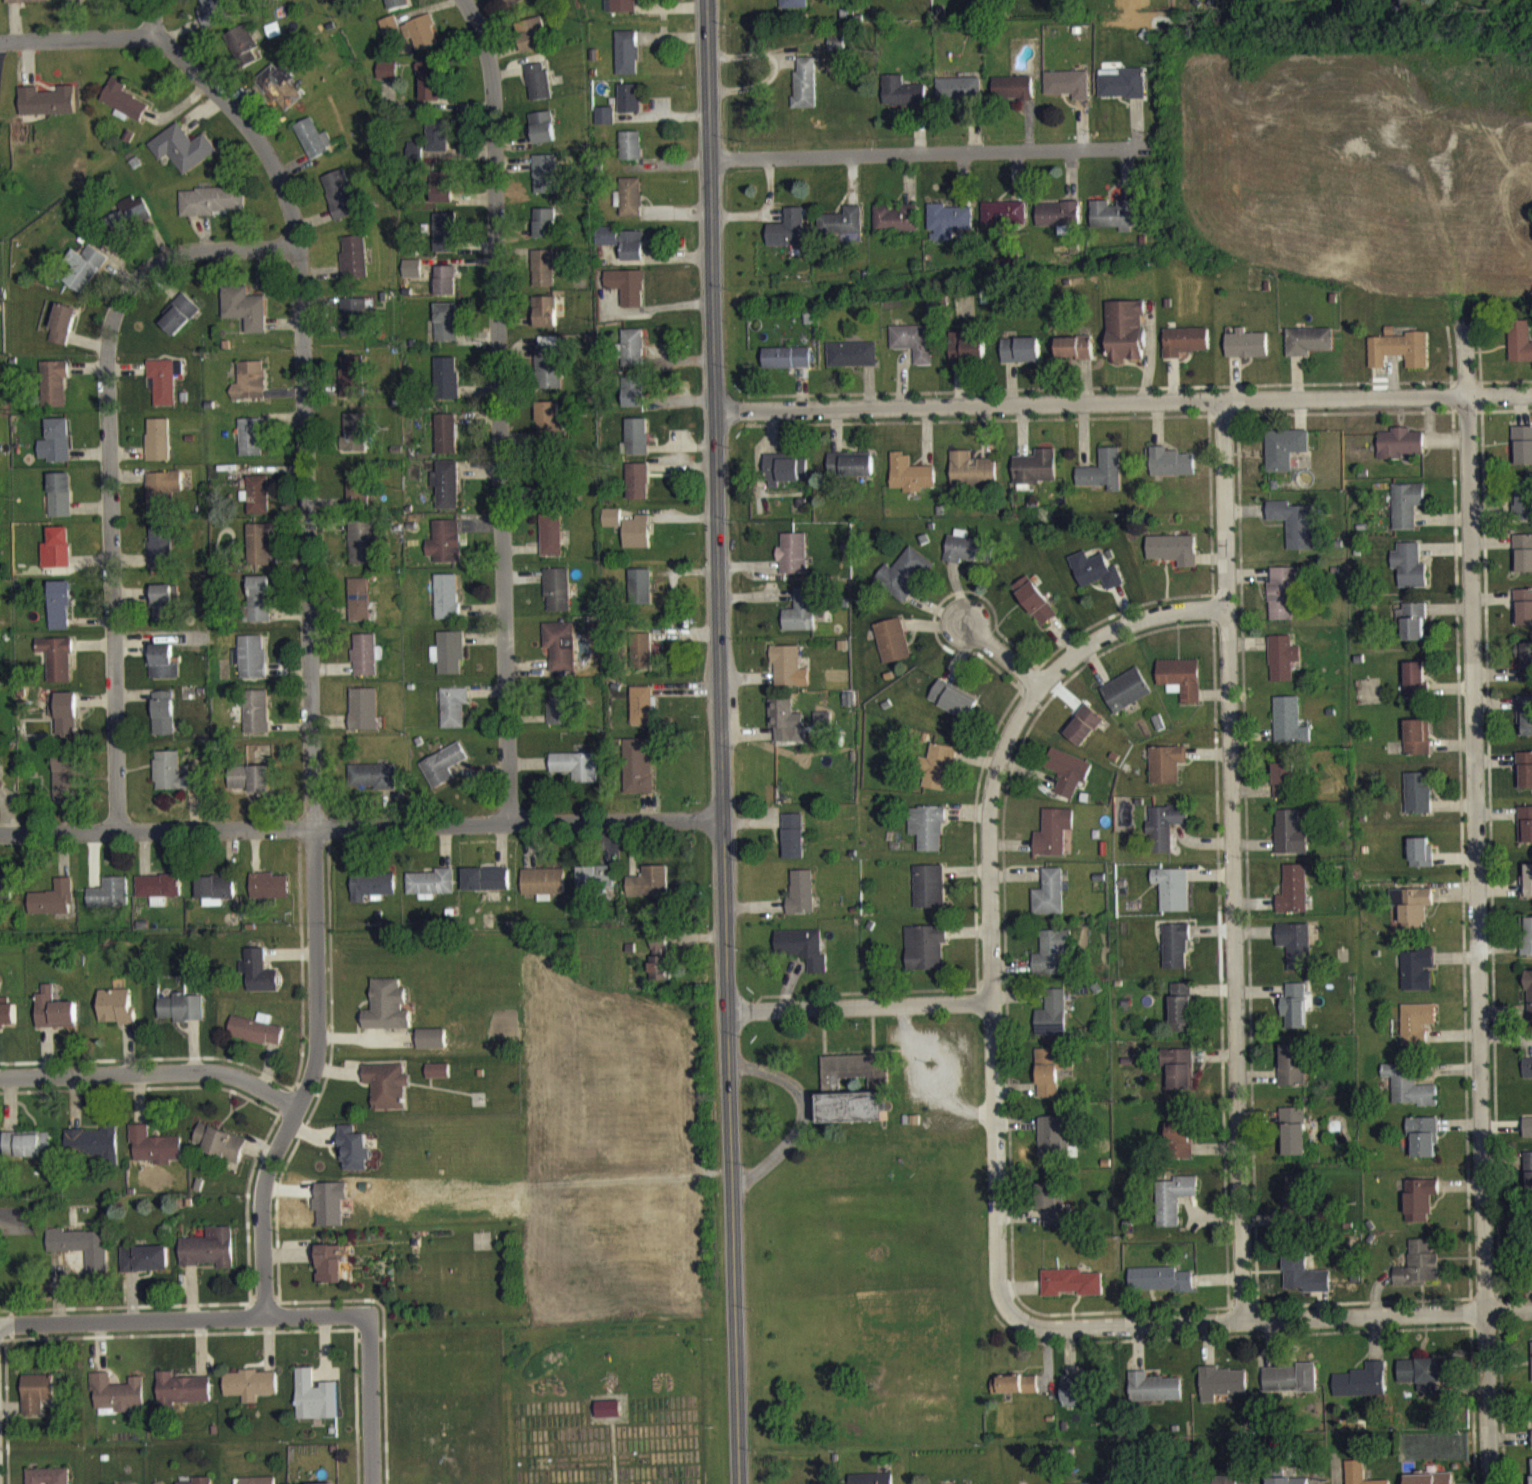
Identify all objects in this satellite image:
building: (79, 2)
building: (28, 5)
building: (513, 6)
building: (396, 8)
building: (796, 9)
building: (621, 11)
building: (212, 17)
building: (390, 36)
building: (421, 41)
building: (531, 43)
road: (76, 48)
building: (241, 55)
building: (627, 61)
building: (387, 79)
building: (432, 88)
building: (538, 90)
building: (806, 91)
building: (1123, 92)
building: (1069, 93)
building: (279, 95)
building: (958, 97)
building: (1013, 97)
building: (903, 101)
building: (629, 107)
building: (122, 108)
building: (46, 110)
building: (604, 125)
building: (542, 137)
building: (437, 144)
building: (313, 147)
road: (929, 153)
building: (630, 155)
building: (181, 156)
building: (413, 159)
building: (544, 183)
building: (442, 196)
building: (339, 203)
building: (629, 206)
building: (211, 210)
building: (1005, 222)
building: (1059, 223)
building: (130, 224)
building: (1116, 224)
building: (897, 227)
building: (949, 229)
building: (545, 232)
building: (842, 232)
building: (790, 239)
building: (445, 241)
building: (622, 251)
road: (255, 259)
building: (353, 266)
building: (411, 277)
building: (544, 277)
building: (82, 278)
building: (445, 289)
building: (627, 295)
building: (244, 317)
building: (546, 321)
building: (180, 323)
building: (353, 326)
building: (446, 331)
building: (62, 333)
building: (1127, 339)
building: (1185, 350)
building: (1310, 350)
building: (1520, 350)
building: (914, 351)
building: (1248, 353)
building: (633, 357)
building: (1076, 357)
building: (967, 358)
building: (1021, 359)
building: (1400, 359)
building: (853, 364)
building: (788, 367)
building: (548, 372)
building: (351, 387)
building: (446, 387)
building: (163, 389)
building: (249, 390)
building: (54, 392)
building: (634, 401)
road: (1092, 401)
road: (1498, 406)
road: (502, 409)
building: (551, 430)
building: (353, 441)
building: (446, 443)
building: (637, 445)
building: (250, 446)
road: (107, 448)
building: (57, 449)
building: (157, 449)
building: (1400, 452)
building: (1523, 454)
building: (1285, 457)
building: (1171, 471)
building: (858, 475)
building: (1035, 476)
building: (785, 479)
building: (973, 480)
building: (1103, 480)
building: (911, 483)
building: (638, 490)
building: (446, 493)
building: (357, 496)
building: (161, 499)
building: (257, 503)
building: (59, 504)
building: (1523, 510)
building: (1407, 514)
building: (612, 526)
building: (1295, 533)
building: (637, 541)
building: (551, 544)
building: (362, 551)
building: (444, 551)
building: (258, 554)
building: (160, 556)
building: (56, 557)
building: (1173, 558)
building: (793, 563)
building: (1523, 563)
building: (1409, 574)
building: (1096, 580)
building: (903, 583)
building: (640, 595)
building: (556, 598)
building: (1283, 603)
building: (446, 606)
building: (258, 608)
building: (164, 609)
building: (359, 609)
building: (1035, 610)
building: (59, 613)
building: (1524, 616)
building: (800, 620)
building: (1412, 630)
road: (1123, 632)
road: (308, 637)
building: (594, 640)
road: (974, 644)
building: (892, 650)
building: (560, 655)
building: (643, 660)
building: (449, 661)
building: (365, 664)
building: (57, 666)
building: (250, 666)
building: (1283, 667)
building: (163, 671)
building: (1527, 671)
building: (788, 676)
building: (1181, 688)
building: (1415, 689)
building: (1126, 700)
building: (953, 709)
building: (560, 714)
building: (453, 715)
building: (640, 715)
building: (363, 718)
building: (256, 720)
building: (163, 722)
building: (64, 724)
building: (1524, 725)
building: (785, 730)
building: (1289, 731)
building: (1084, 735)
road: (720, 741)
building: (1418, 747)
road: (114, 763)
building: (1166, 773)
building: (442, 774)
building: (938, 774)
building: (573, 775)
building: (637, 776)
building: (1524, 779)
building: (1068, 781)
building: (173, 782)
building: (373, 785)
building: (66, 787)
building: (249, 787)
building: (1284, 790)
building: (1, 792)
building: (1418, 802)
road: (360, 827)
building: (1525, 834)
building: (1165, 835)
building: (928, 837)
building: (1053, 842)
building: (1290, 842)
building: (792, 846)
road: (1238, 859)
building: (1421, 862)
building: (486, 888)
building: (647, 891)
building: (431, 892)
building: (543, 892)
building: (1527, 892)
building: (6, 894)
building: (372, 894)
building: (270, 895)
building: (929, 896)
building: (158, 897)
building: (215, 897)
building: (1172, 898)
building: (1294, 899)
building: (109, 902)
building: (801, 902)
building: (1050, 902)
building: (53, 908)
building: (1412, 916)
road: (1469, 945)
building: (1527, 945)
building: (1295, 953)
building: (925, 956)
building: (1176, 956)
building: (803, 957)
building: (1053, 962)
building: (660, 966)
building: (1418, 979)
building: (260, 981)
road: (997, 1001)
building: (1529, 1004)
road: (863, 1006)
building: (389, 1015)
building: (116, 1016)
building: (1294, 1016)
building: (183, 1017)
building: (1182, 1017)
building: (55, 1018)
building: (1053, 1023)
building: (1417, 1032)
building: (257, 1039)
building: (433, 1048)
road: (152, 1071)
building: (1292, 1075)
building: (1180, 1077)
building: (1527, 1077)
building: (439, 1080)
building: (1047, 1083)
building: (388, 1095)
building: (1409, 1095)
building: (854, 1099)
road: (802, 1117)
building: (1528, 1137)
building: (1294, 1140)
building: (1180, 1142)
building: (1053, 1144)
building: (1424, 1146)
building: (95, 1151)
building: (221, 1152)
building: (28, 1153)
building: (155, 1155)
building: (355, 1157)
building: (1529, 1181)
building: (1295, 1203)
building: (1174, 1208)
building: (1420, 1208)
building: (1052, 1213)
building: (82, 1255)
building: (209, 1258)
building: (145, 1268)
building: (331, 1274)
building: (1419, 1274)
building: (1303, 1281)
building: (1160, 1289)
building: (1071, 1292)
road: (1270, 1317)
road: (183, 1318)
building: (1421, 1382)
building: (1290, 1388)
building: (1362, 1391)
building: (1221, 1392)
building: (251, 1394)
building: (1015, 1394)
building: (1154, 1397)
road: (370, 1400)
building: (1075, 1400)
building: (37, 1403)
building: (117, 1403)
building: (315, 1406)
building: (609, 1418)
building: (1355, 1477)
building: (48, 1481)
building: (879, 1483)
building: (1443, 1483)

